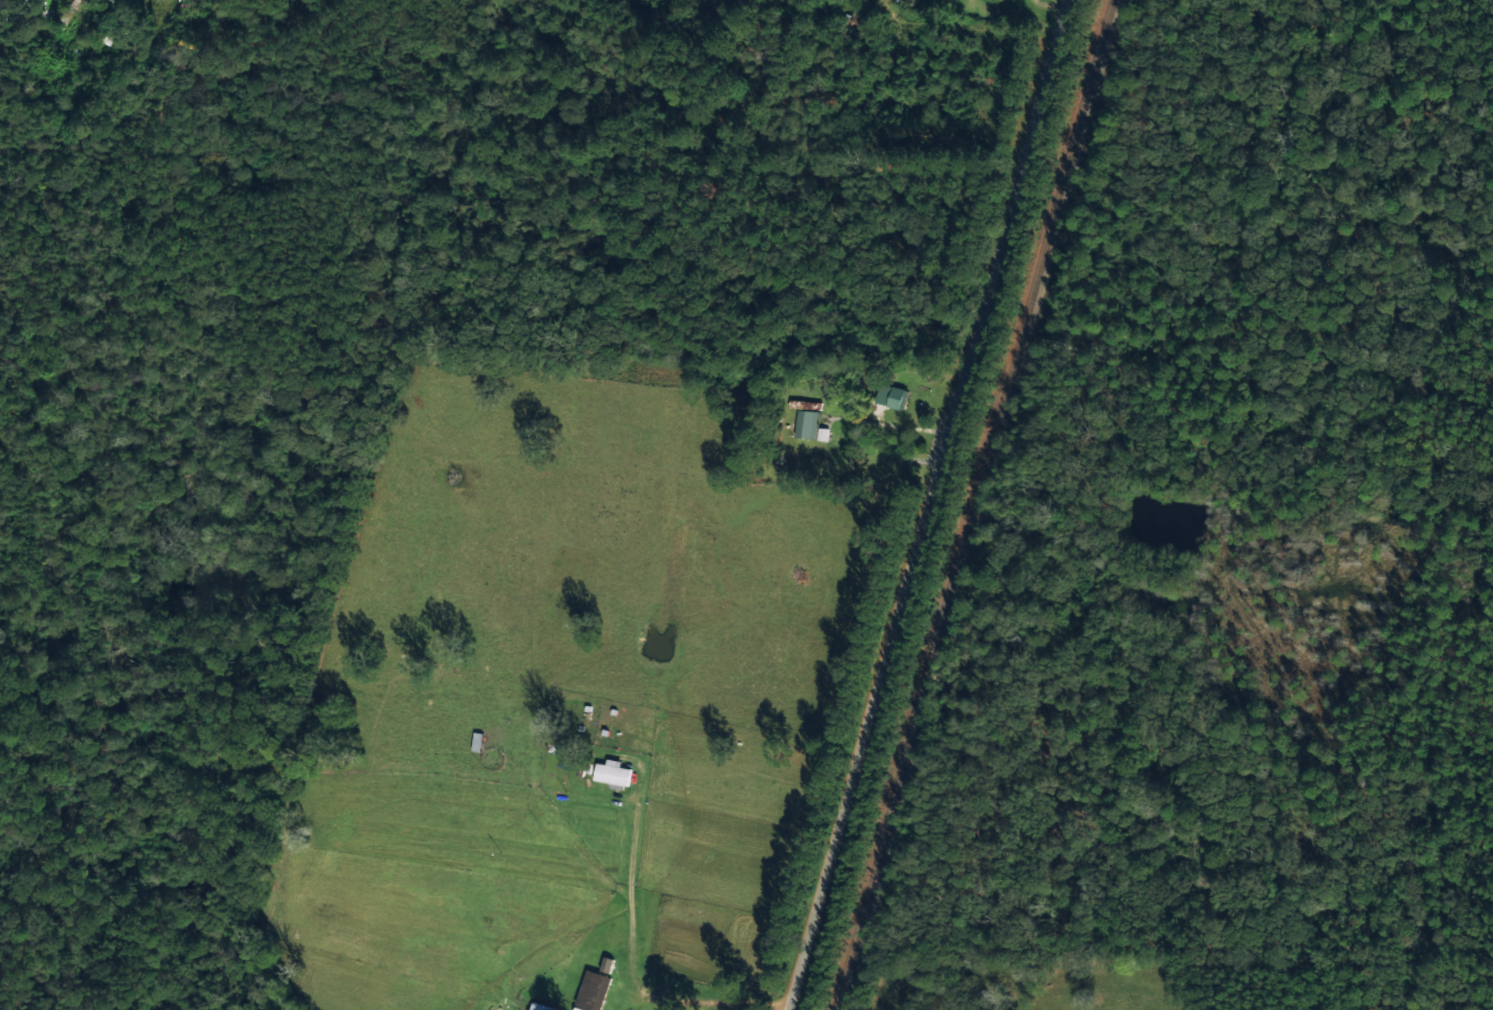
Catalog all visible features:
building: (889, 396)
building: (806, 423)
road: (913, 429)
road: (926, 505)
railway: (973, 505)
building: (475, 740)
building: (611, 771)
building: (592, 989)
building: (538, 1006)

